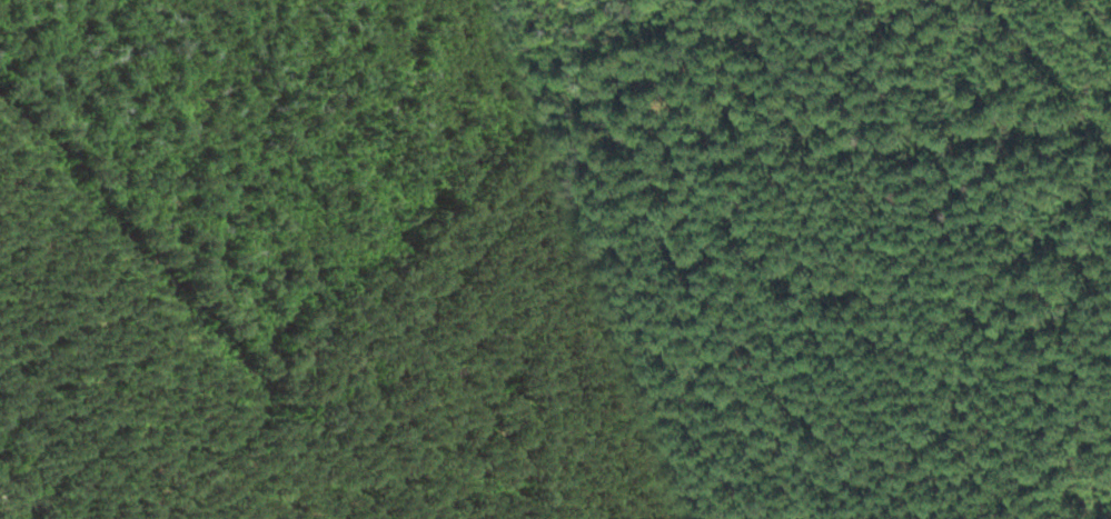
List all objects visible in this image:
road: (19, 493)

